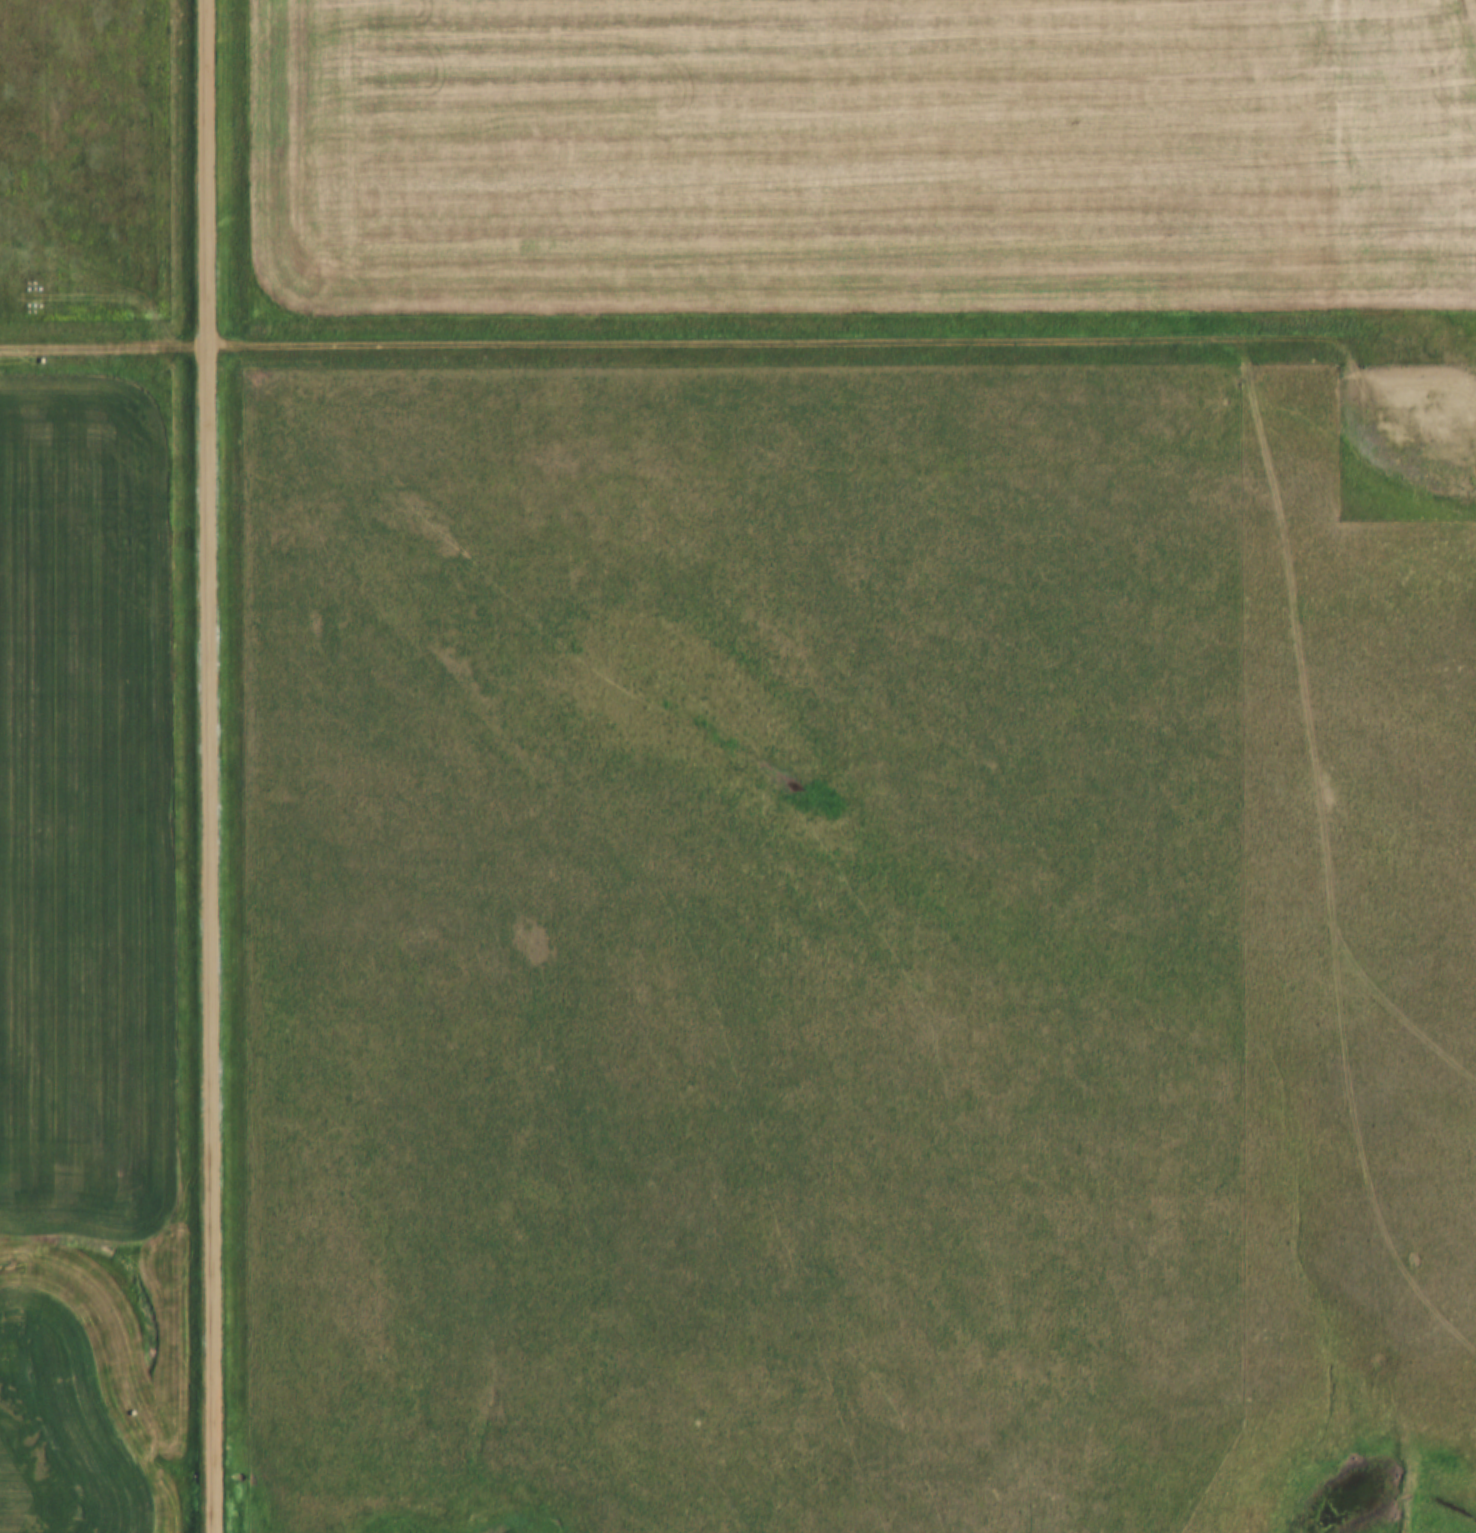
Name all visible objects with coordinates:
road: (829, 342)
road: (105, 343)
road: (211, 766)

